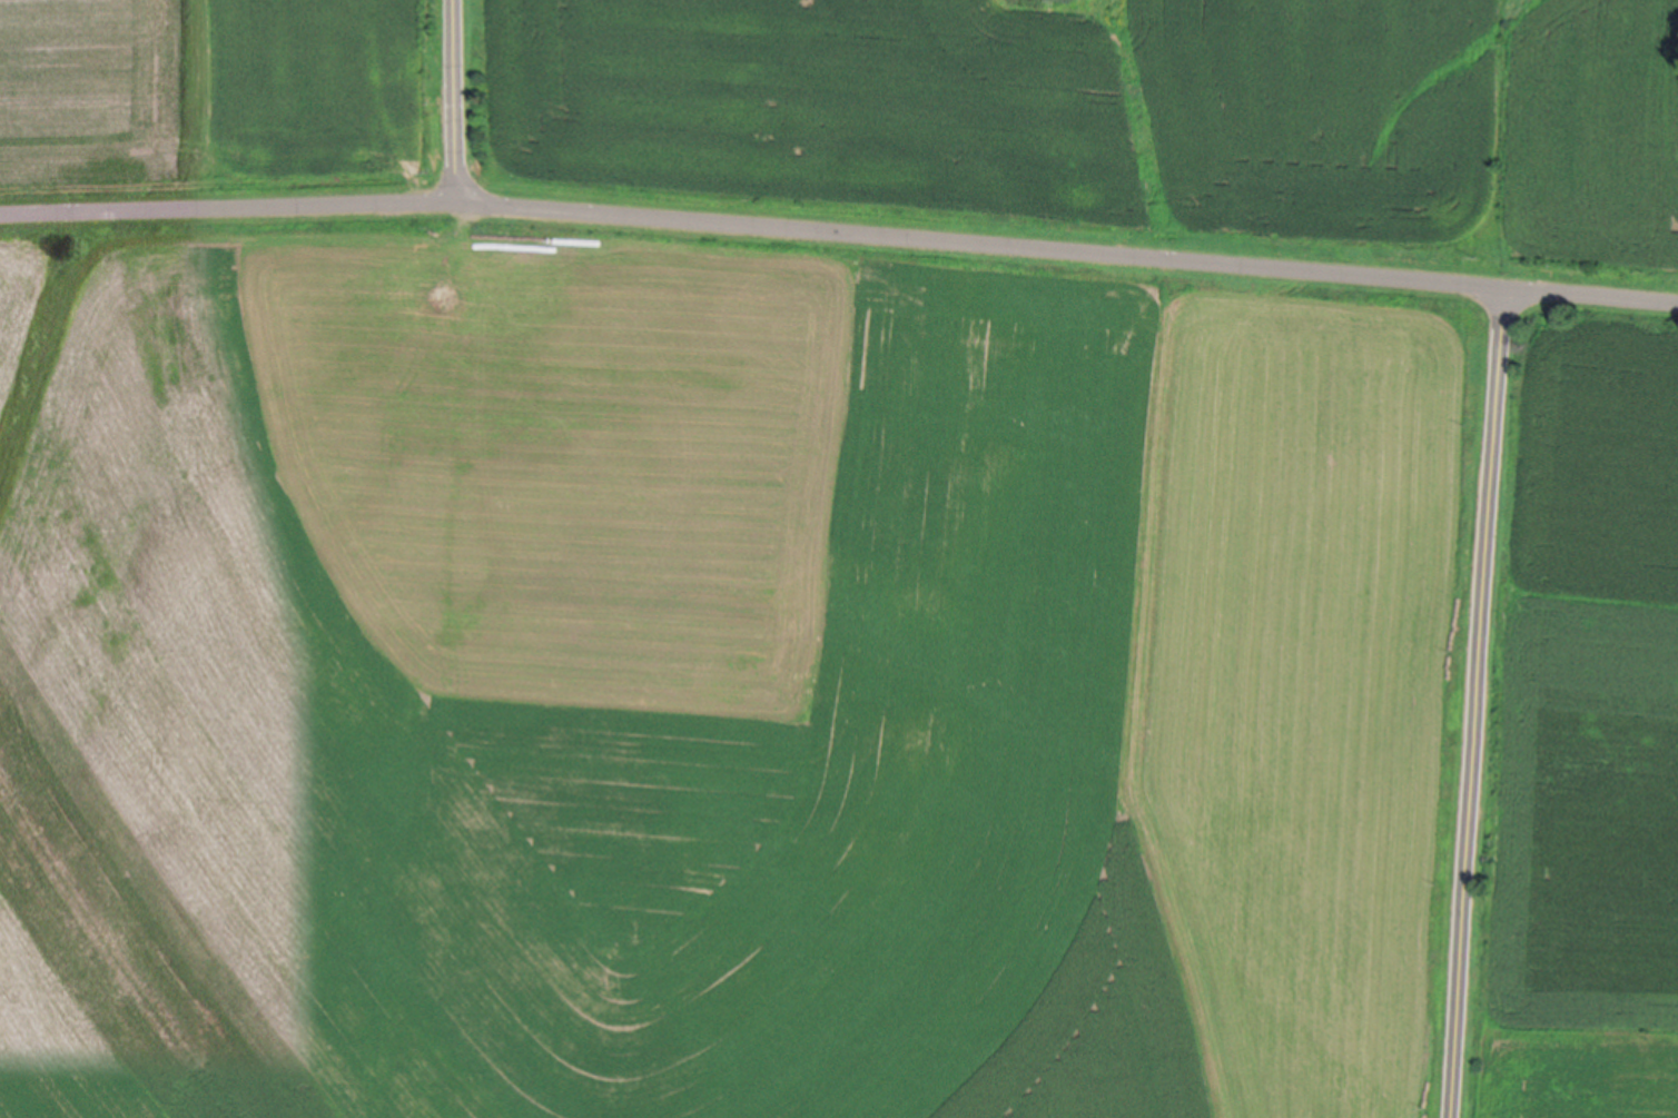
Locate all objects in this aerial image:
road: (458, 110)
road: (839, 243)
road: (1477, 699)

